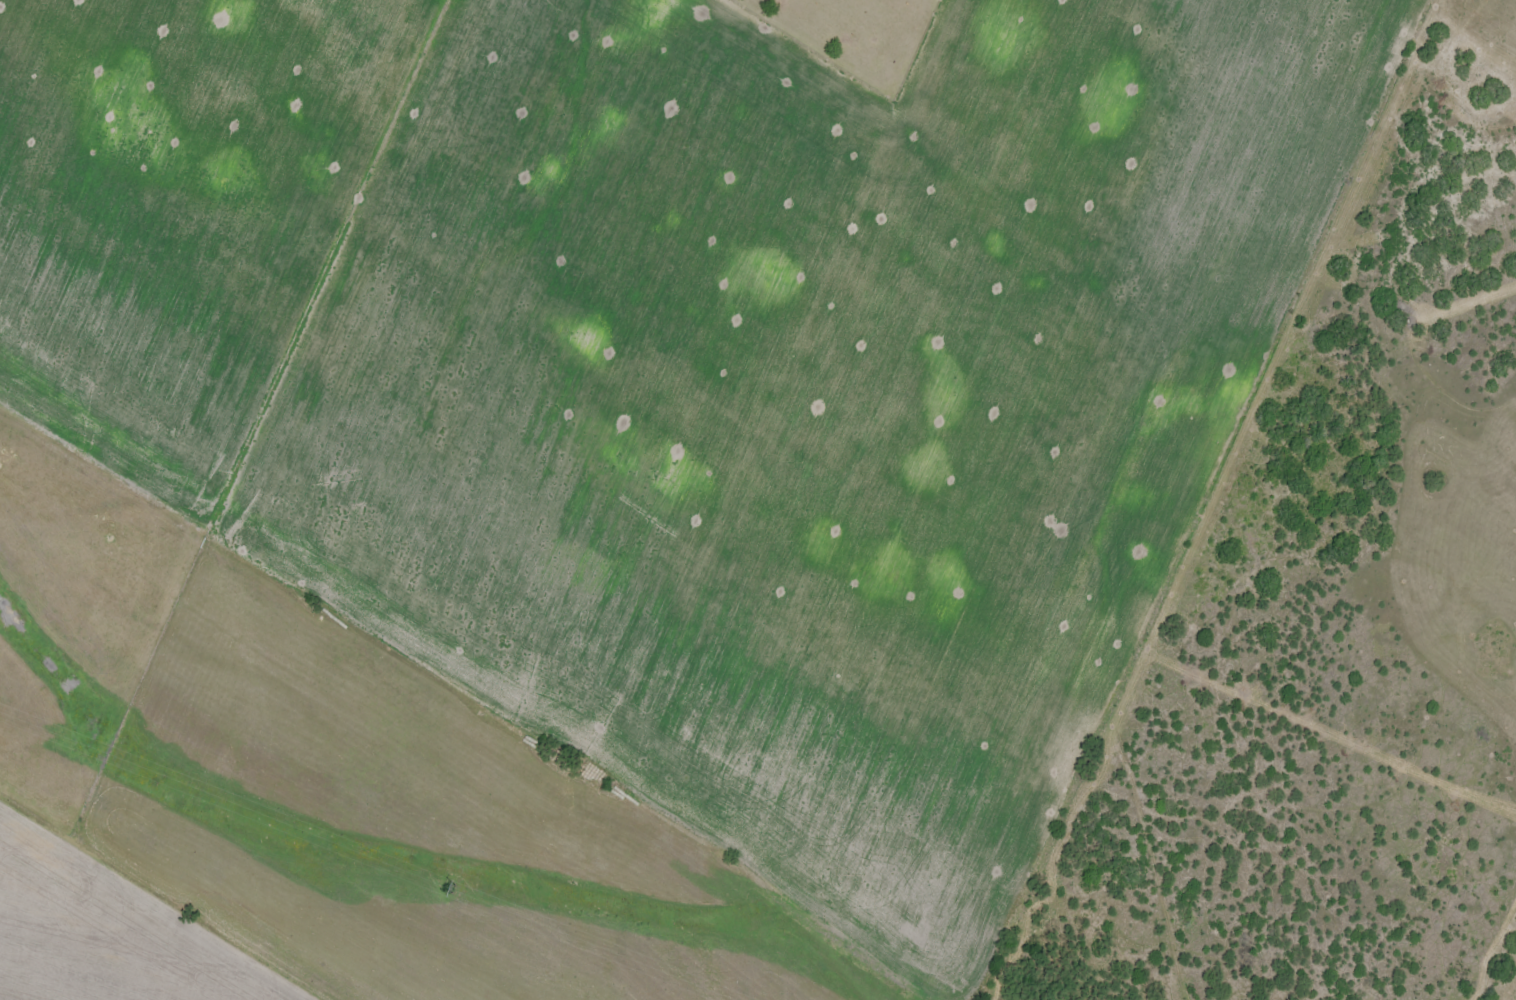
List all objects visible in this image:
power tower: (451, 889)

